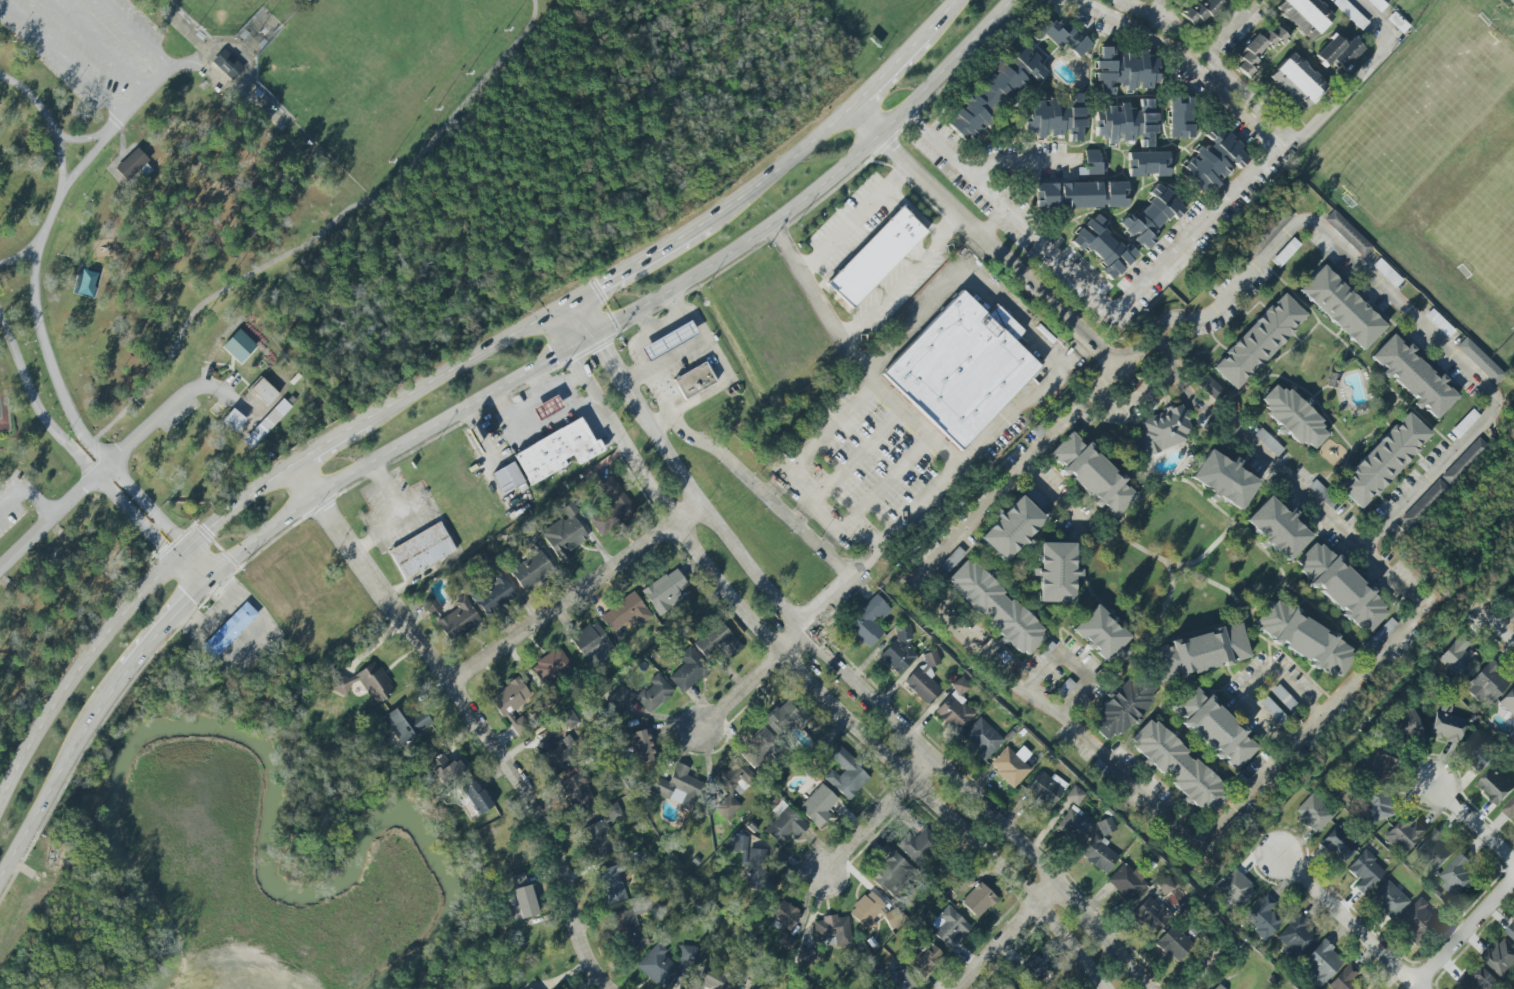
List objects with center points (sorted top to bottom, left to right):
building: (1377, 4)
road: (951, 7)
building: (1199, 11)
park: (219, 14)
building: (1303, 15)
road: (277, 20)
road: (1169, 30)
road: (1144, 33)
building: (1060, 35)
road: (148, 44)
road: (97, 46)
building: (1258, 47)
parking lot: (94, 50)
building: (1337, 51)
road: (62, 58)
building: (228, 65)
road: (894, 66)
building: (1124, 69)
park: (373, 70)
road: (1360, 74)
building: (1295, 81)
building: (993, 92)
road: (131, 108)
building: (1054, 117)
building: (1179, 117)
road: (895, 119)
building: (1125, 123)
road: (123, 133)
road: (89, 138)
road: (122, 155)
road: (88, 159)
building: (1212, 159)
road: (904, 161)
building: (1093, 161)
building: (132, 163)
road: (980, 163)
building: (1147, 163)
road: (775, 170)
building: (1080, 195)
road: (911, 211)
building: (1150, 215)
road: (852, 218)
road: (948, 225)
building: (1266, 230)
building: (1346, 232)
road: (310, 241)
building: (1102, 246)
road: (22, 255)
park: (182, 256)
building: (874, 256)
road: (632, 268)
road: (1162, 271)
road: (1026, 276)
road: (888, 288)
road: (817, 301)
building: (1341, 307)
road: (1014, 316)
road: (574, 322)
road: (641, 324)
road: (43, 340)
building: (667, 340)
gas station: (667, 340)
building: (1257, 340)
building: (238, 345)
road: (632, 350)
road: (886, 354)
road: (610, 360)
building: (1479, 360)
road: (461, 364)
building: (960, 367)
road: (722, 369)
building: (1412, 376)
building: (693, 380)
road: (537, 381)
road: (635, 382)
road: (1482, 383)
building: (1210, 387)
building: (262, 390)
road: (535, 396)
road: (484, 397)
road: (1135, 401)
gas station: (545, 406)
building: (546, 407)
building: (1292, 416)
building: (232, 420)
road: (914, 422)
building: (265, 423)
building: (1161, 430)
building: (1262, 436)
road: (329, 441)
building: (555, 451)
road: (855, 453)
road: (970, 458)
building: (1382, 459)
building: (1463, 462)
road: (84, 463)
road: (115, 463)
building: (1091, 474)
building: (507, 478)
building: (1223, 479)
road: (885, 483)
road: (388, 491)
road: (756, 492)
road: (26, 494)
road: (1049, 497)
parking lot: (16, 501)
building: (1422, 504)
building: (610, 506)
road: (829, 518)
road: (393, 526)
building: (1010, 528)
building: (1276, 528)
building: (563, 534)
building: (420, 550)
building: (528, 569)
building: (1055, 572)
building: (1340, 587)
building: (664, 588)
building: (1511, 589)
road: (579, 593)
building: (494, 594)
road: (825, 599)
building: (431, 606)
building: (994, 607)
road: (122, 612)
building: (623, 612)
building: (457, 619)
road: (1497, 619)
building: (867, 620)
road: (167, 623)
building: (227, 631)
building: (902, 632)
building: (1102, 636)
building: (1304, 638)
building: (715, 641)
building: (590, 642)
building: (1198, 652)
building: (895, 656)
building: (1456, 656)
road: (1071, 664)
building: (549, 665)
building: (687, 669)
road: (753, 674)
road: (799, 674)
building: (923, 678)
building: (365, 681)
road: (1250, 681)
building: (1486, 683)
building: (641, 694)
road: (878, 697)
building: (1508, 701)
building: (510, 702)
building: (954, 706)
building: (1122, 707)
road: (475, 714)
building: (784, 715)
building: (403, 723)
building: (1446, 724)
building: (1405, 727)
building: (1213, 728)
building: (982, 738)
building: (558, 742)
road: (1091, 744)
building: (641, 745)
building: (758, 748)
building: (1478, 750)
building: (1375, 760)
building: (1010, 764)
building: (445, 767)
building: (1177, 767)
road: (59, 768)
building: (845, 774)
building: (675, 782)
building: (730, 783)
building: (1496, 785)
building: (1044, 788)
building: (576, 790)
building: (1074, 795)
building: (475, 796)
building: (817, 805)
building: (1374, 806)
building: (1509, 808)
building: (611, 811)
road: (877, 811)
building: (1313, 813)
road: (1473, 817)
river: (255, 820)
building: (1074, 822)
building: (783, 824)
building: (1105, 825)
building: (1404, 833)
building: (596, 838)
building: (1337, 844)
building: (916, 845)
building: (1432, 852)
building: (1097, 853)
building: (751, 862)
building: (1364, 871)
building: (890, 872)
building: (1458, 875)
building: (963, 879)
building: (610, 882)
building: (1126, 882)
building: (1163, 885)
building: (1235, 888)
building: (520, 898)
building: (977, 899)
building: (1388, 899)
building: (1150, 914)
road: (1346, 915)
building: (1261, 917)
building: (782, 920)
building: (1415, 921)
building: (947, 926)
building: (627, 930)
building: (830, 930)
building: (1510, 930)
road: (1466, 932)
building: (1295, 937)
road: (1022, 940)
building: (1172, 943)
building: (687, 952)
building: (803, 955)
building: (1501, 956)
building: (925, 960)
road: (1224, 962)
building: (1320, 962)
building: (1034, 965)
building: (658, 966)
building: (708, 978)
building: (896, 980)
building: (1348, 980)
building: (1478, 980)
building: (1007, 987)
building: (1217, 987)
building: (527, 988)
building: (528, 988)
building: (1372, 988)

